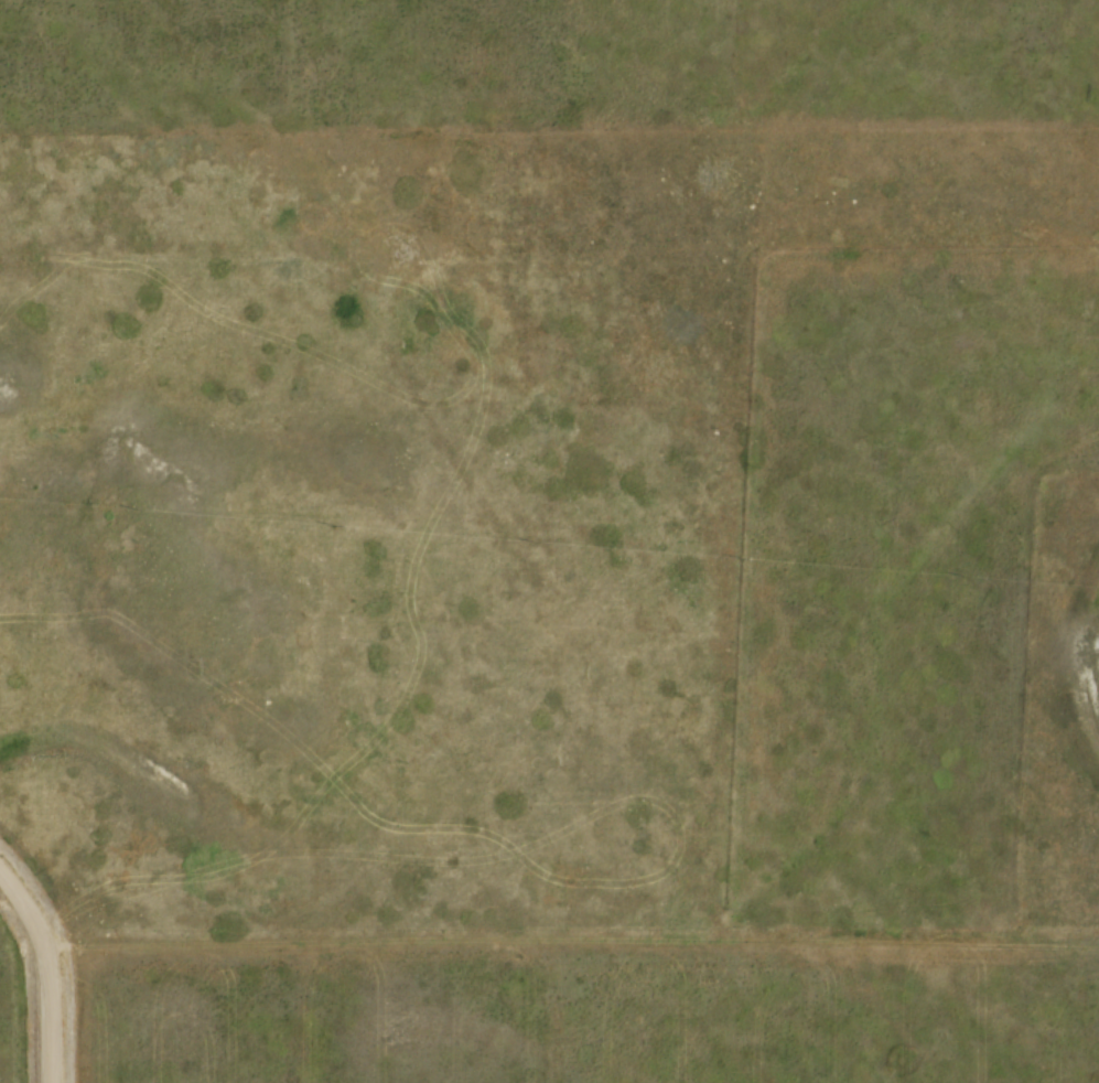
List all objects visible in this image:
road: (47, 972)

